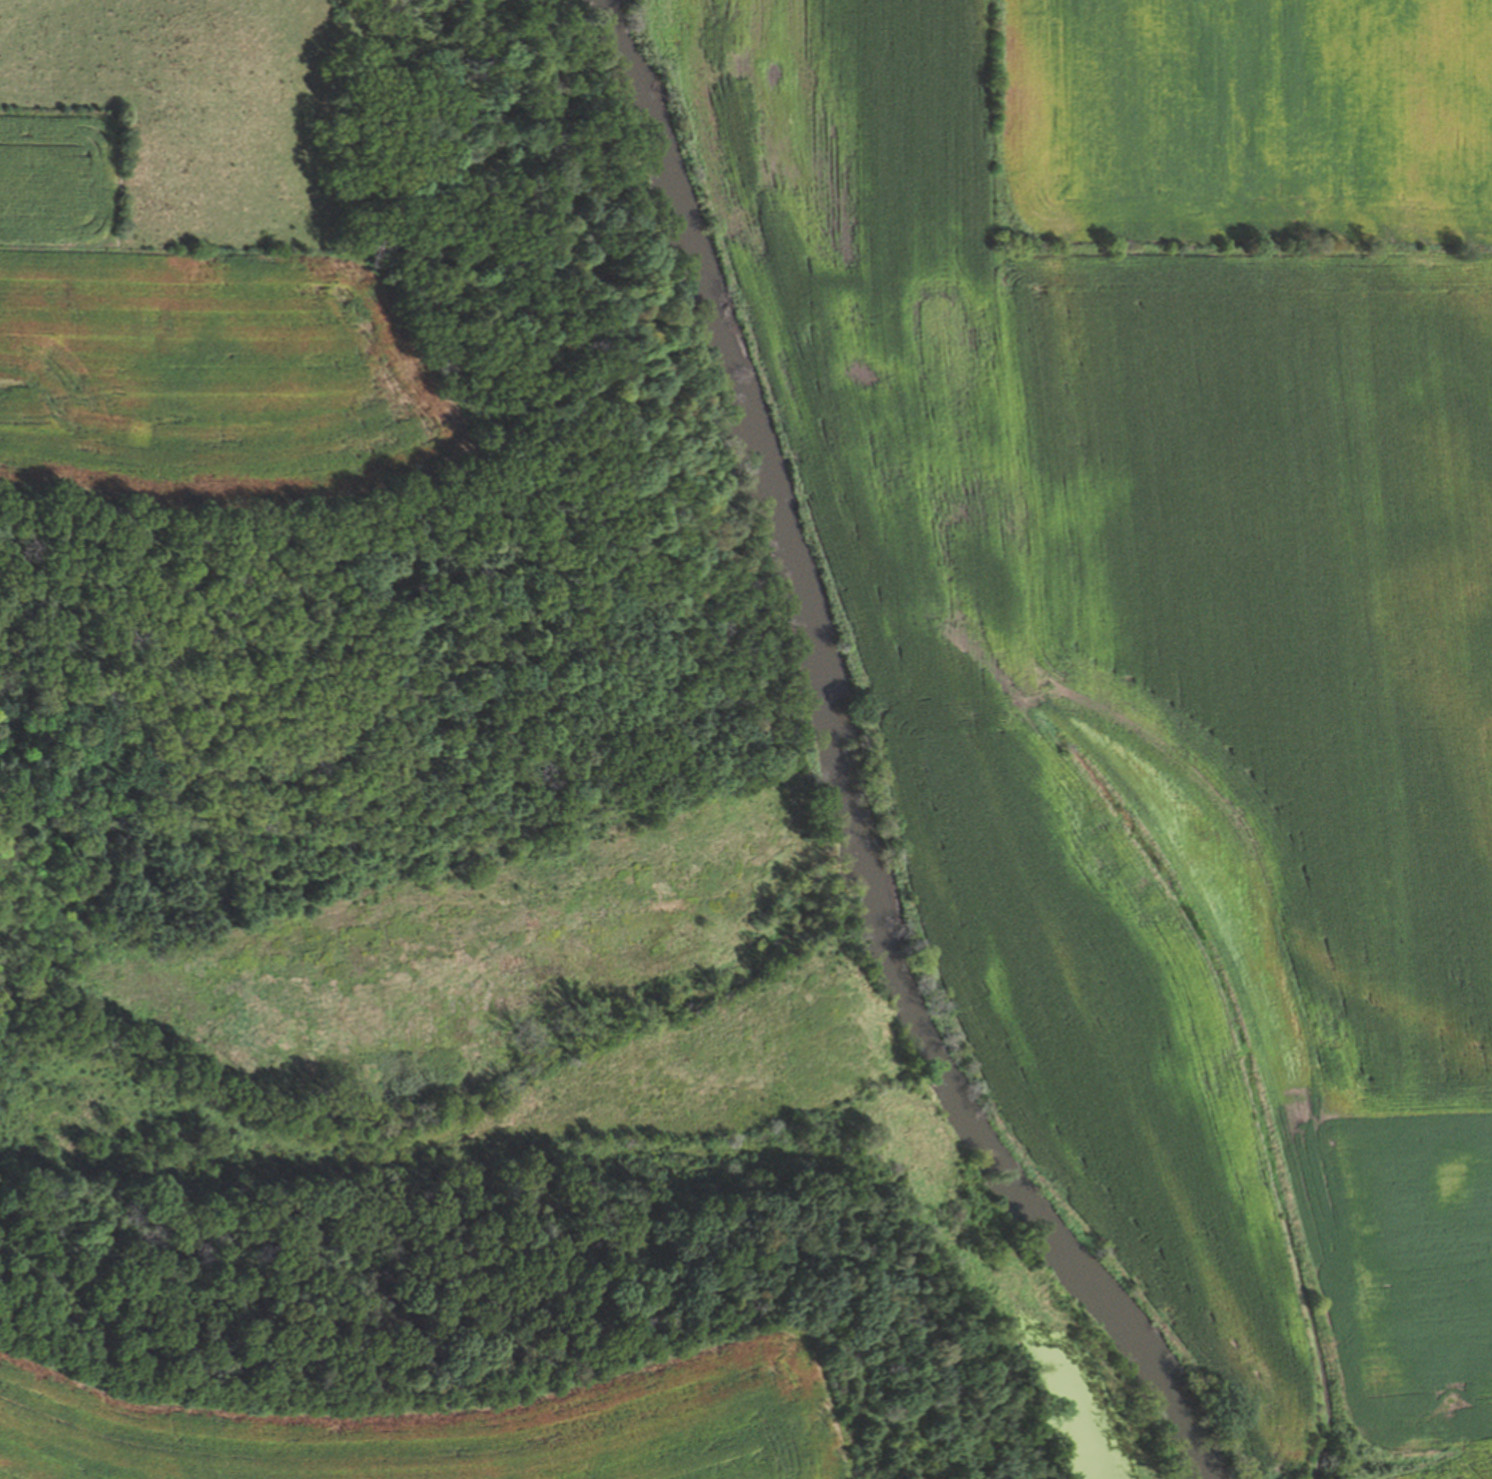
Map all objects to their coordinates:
river: (812, 773)

